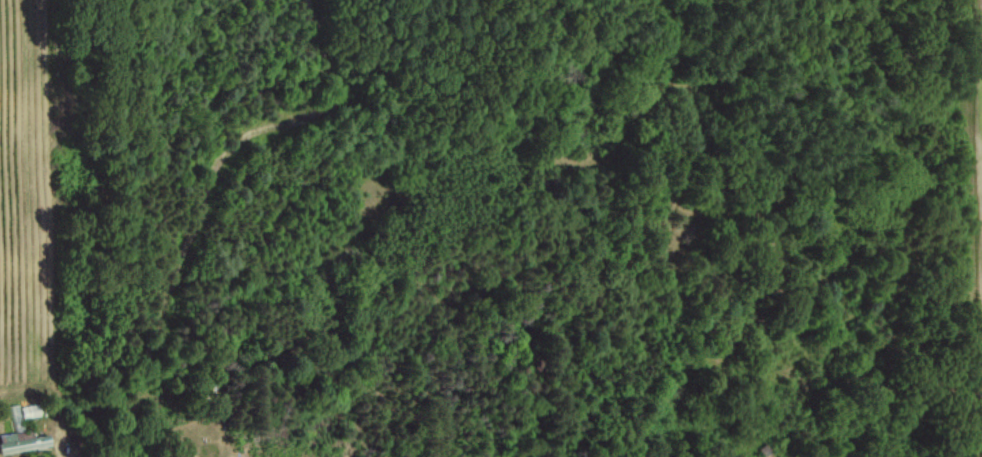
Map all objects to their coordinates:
building: (29, 410)
building: (22, 440)

